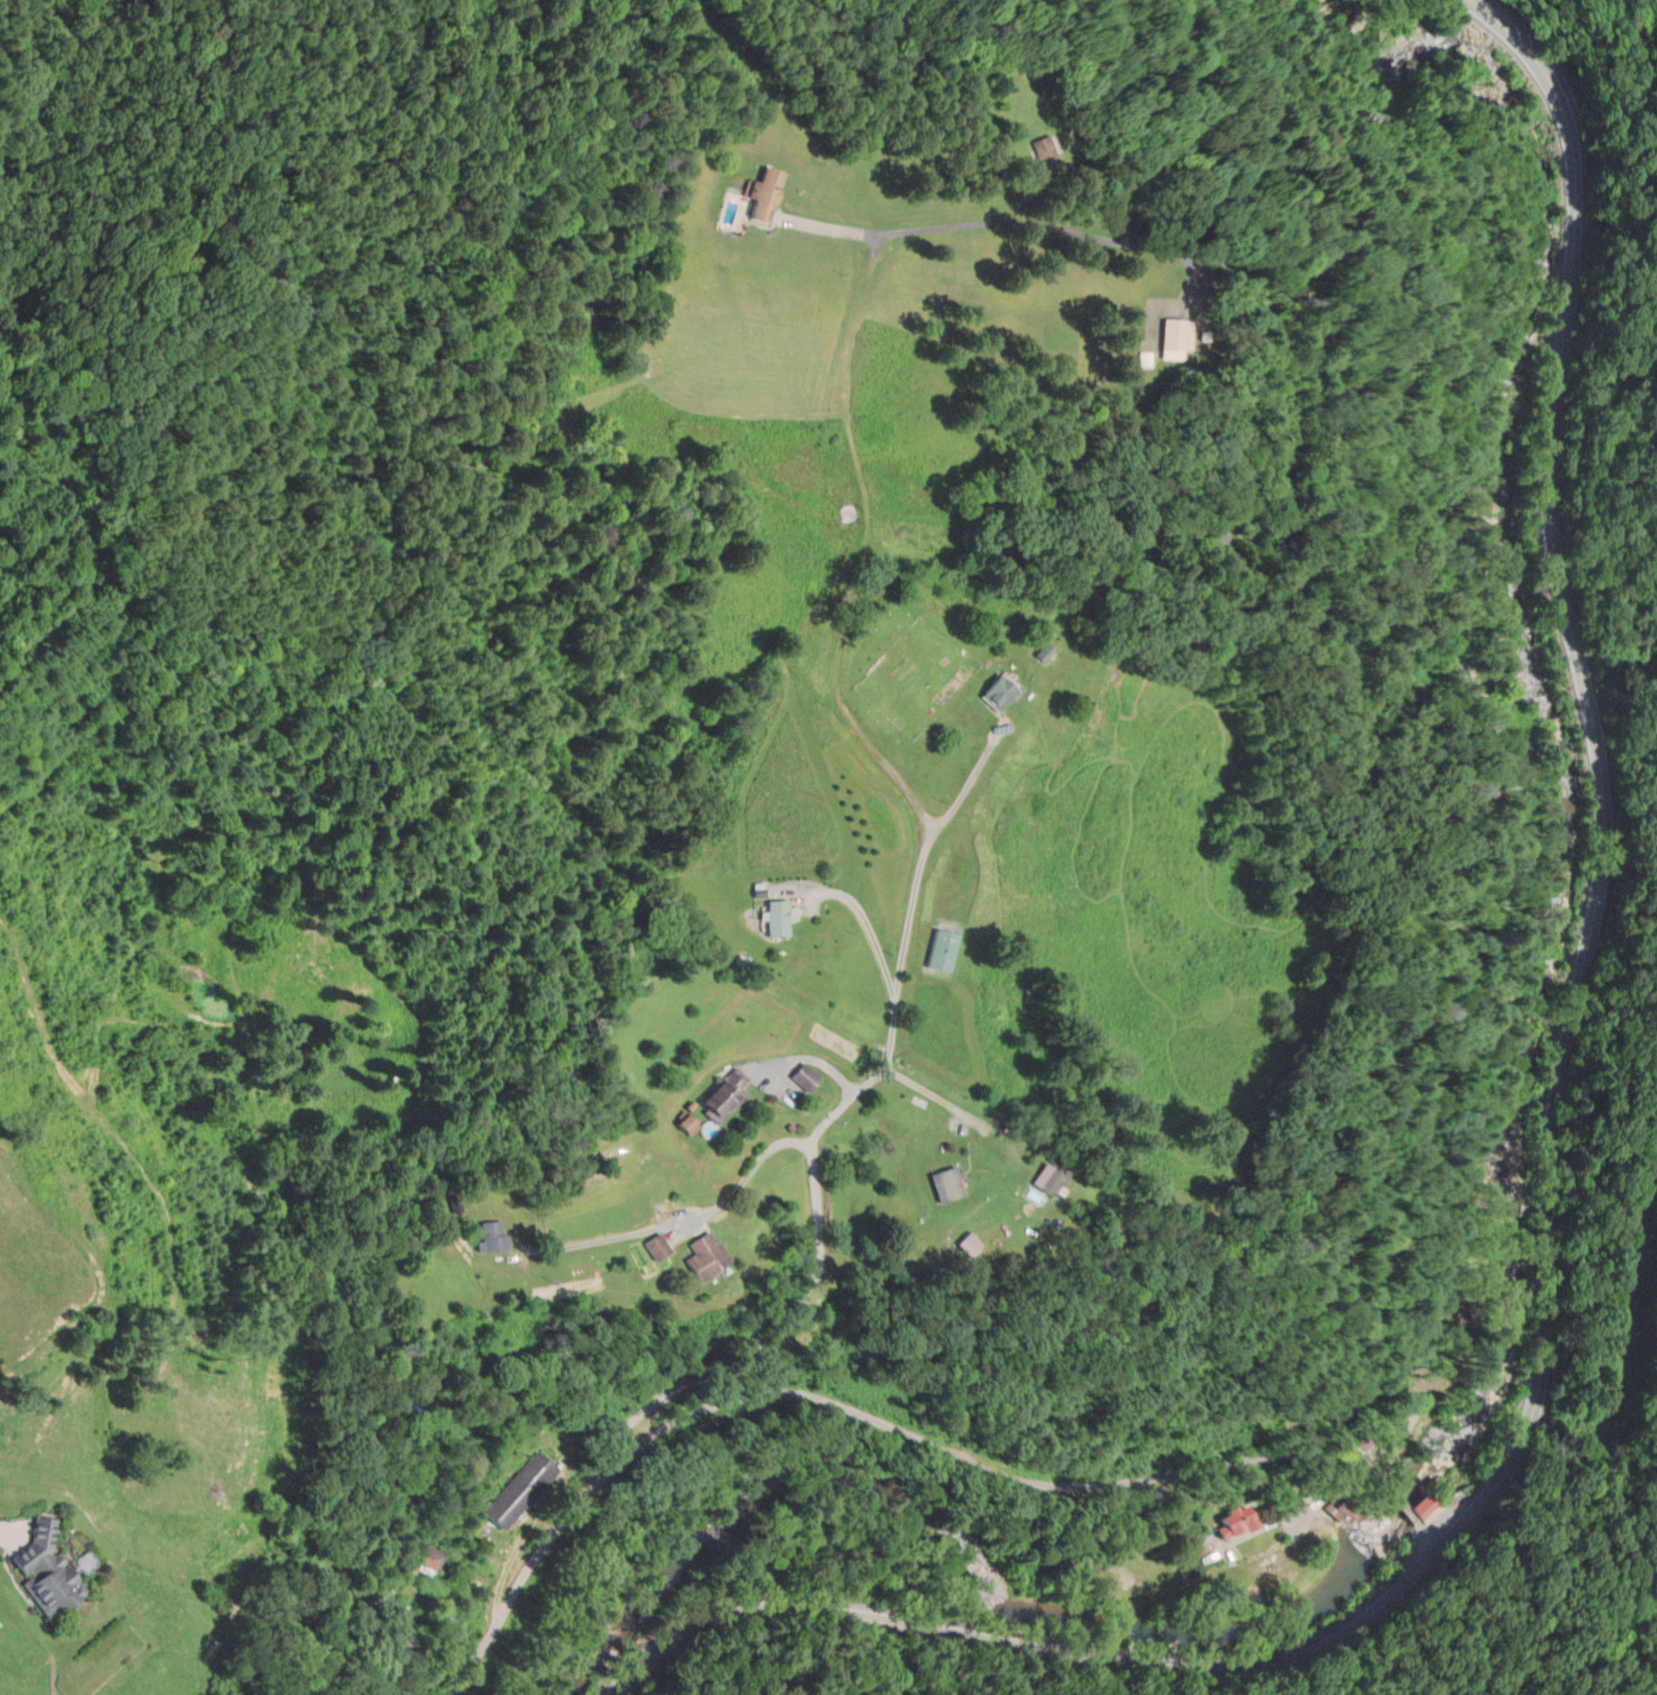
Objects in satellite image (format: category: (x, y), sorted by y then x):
building: (1045, 153)
building: (763, 195)
road: (831, 227)
building: (1174, 340)
road: (1281, 397)
building: (1042, 652)
building: (997, 693)
building: (941, 949)
road: (890, 1034)
building: (804, 1076)
road: (1473, 1085)
road: (926, 1095)
building: (718, 1097)
building: (910, 1109)
building: (1053, 1177)
road: (697, 1213)
road: (1545, 1216)
building: (493, 1236)
building: (656, 1246)
building: (704, 1257)
building: (519, 1489)
building: (1201, 1541)
building: (431, 1558)
building: (45, 1571)

